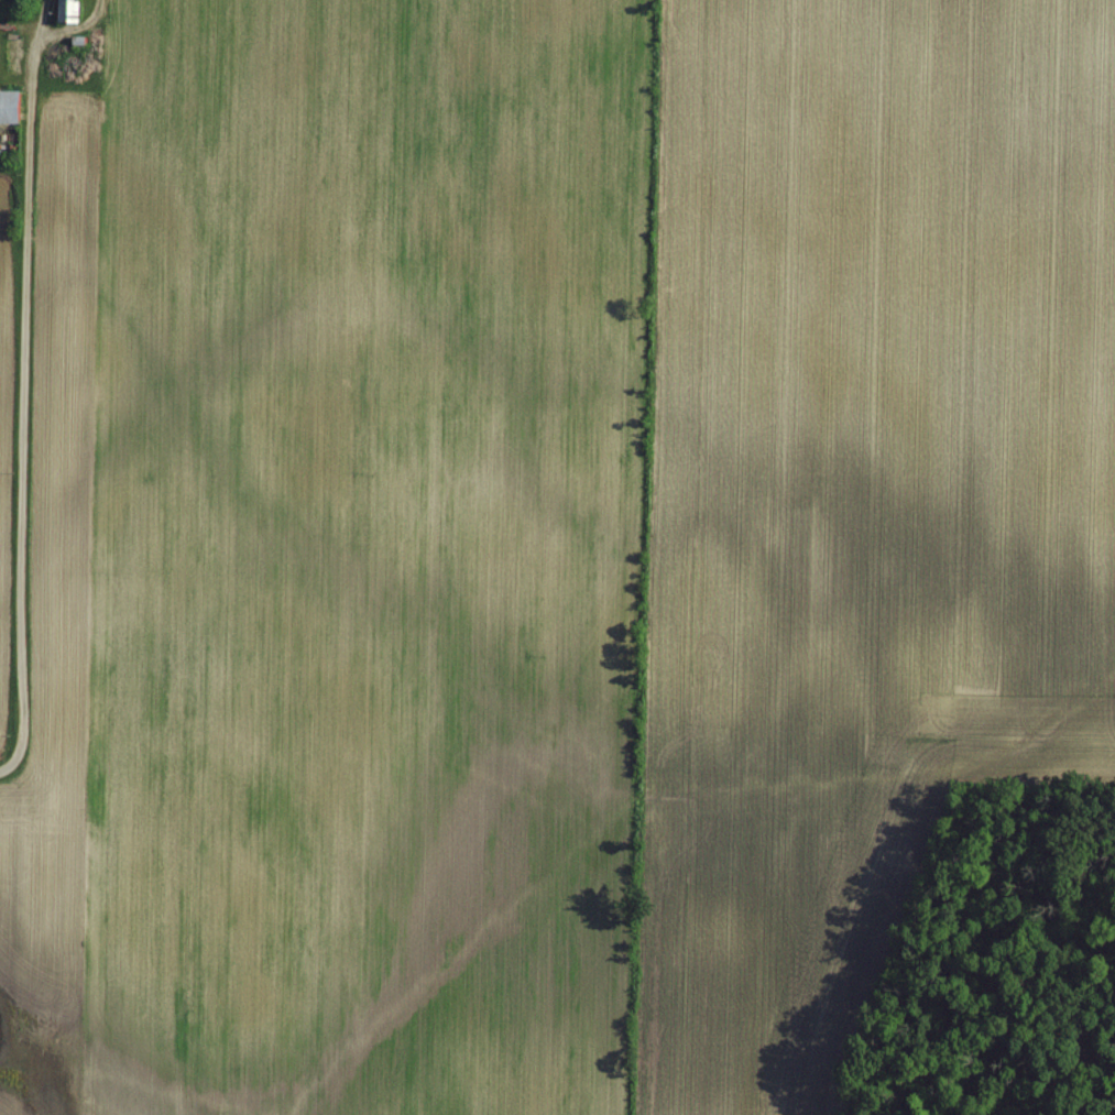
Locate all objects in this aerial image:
road: (20, 386)

